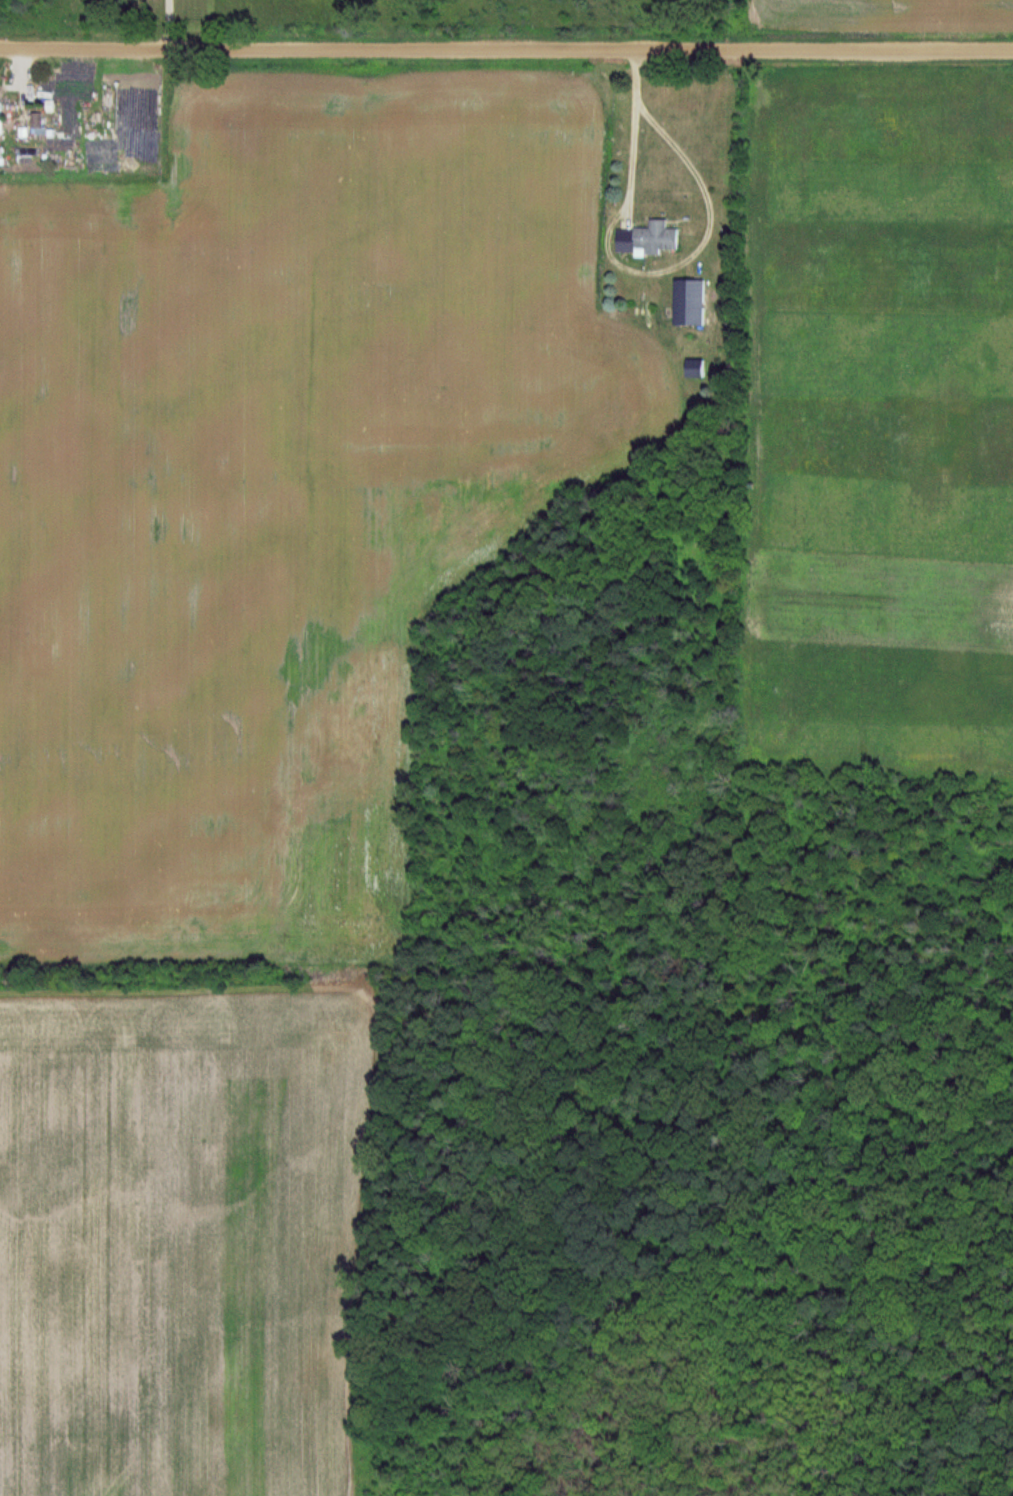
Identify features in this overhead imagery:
road: (168, 24)
road: (506, 48)
building: (2, 115)
road: (631, 126)
building: (5, 189)
building: (652, 238)
building: (693, 303)
building: (696, 369)

